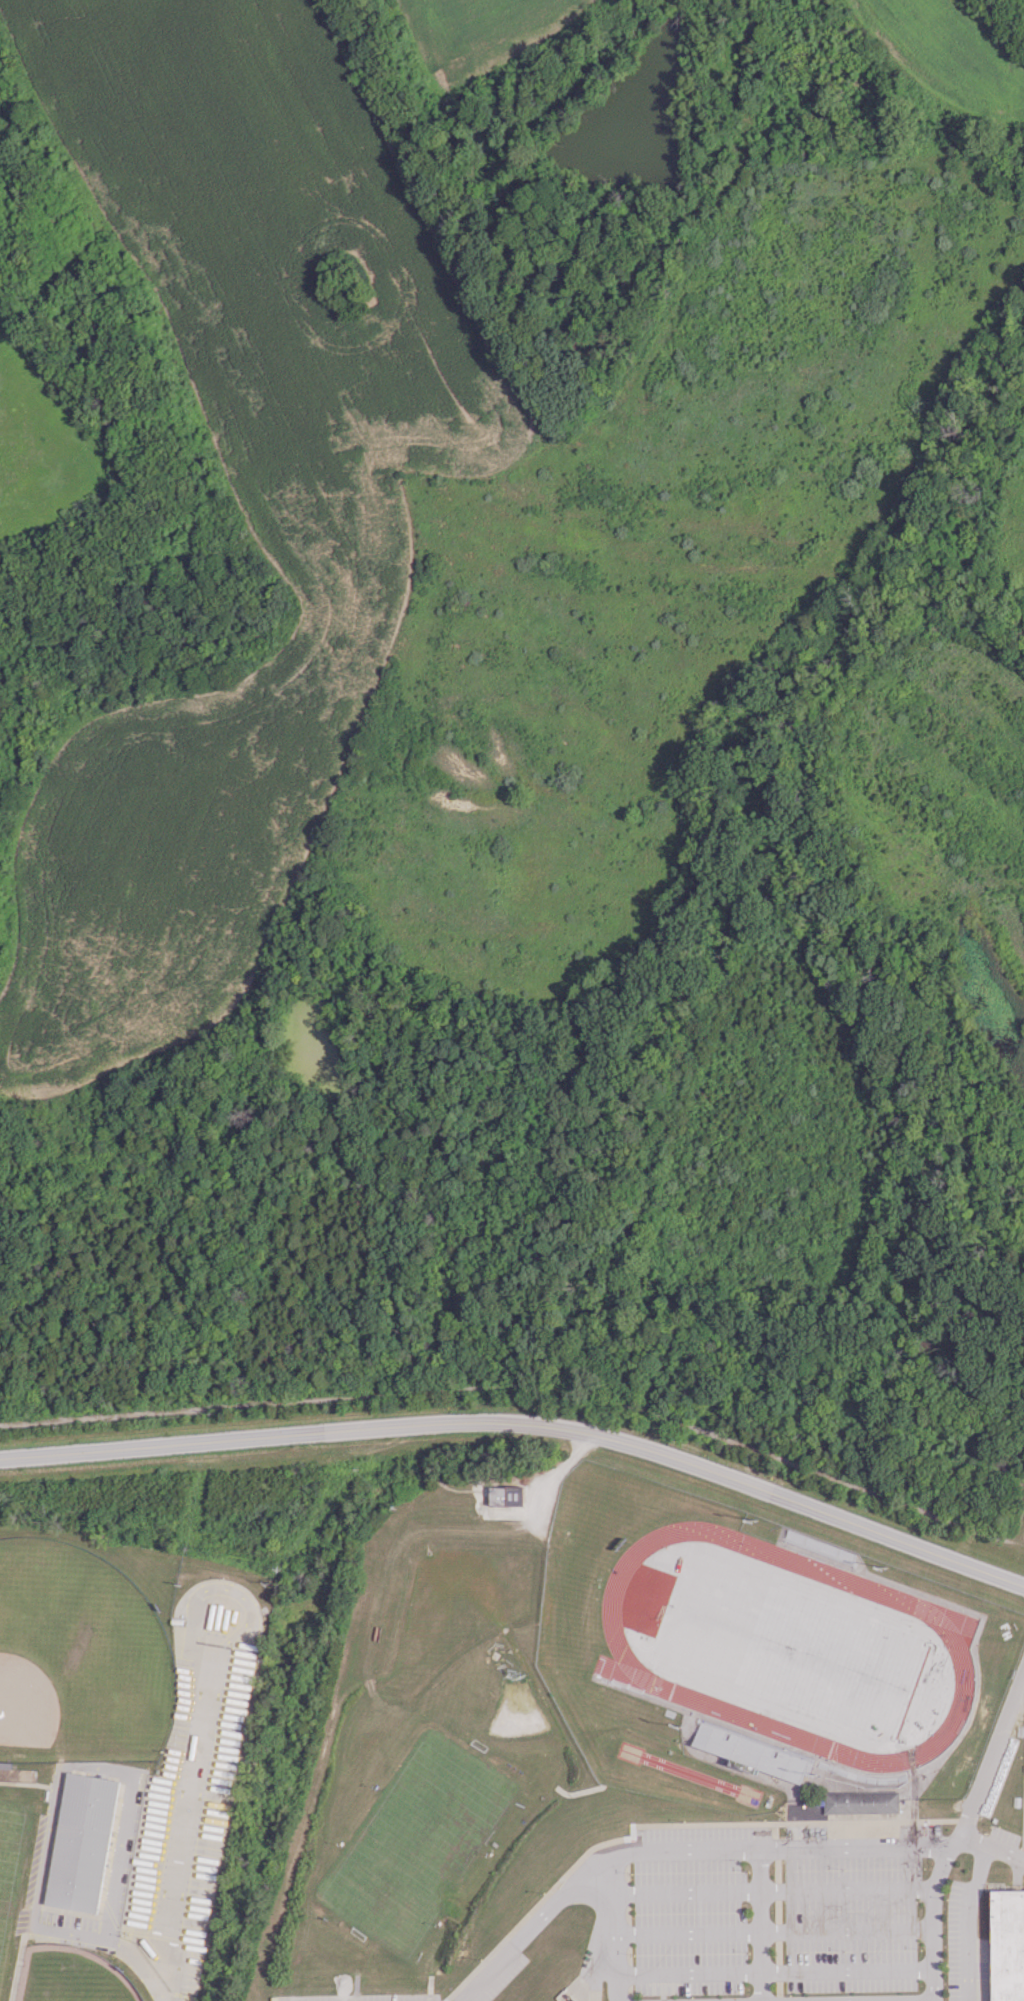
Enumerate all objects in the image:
road: (524, 1387)
road: (524, 1423)
building: (500, 1495)
parking lot: (1022, 1534)
track: (956, 1644)
park: (786, 1647)
park: (79, 1659)
road: (992, 1745)
road: (219, 1794)
building: (862, 1802)
road: (956, 1835)
building: (82, 1842)
road: (989, 1844)
road: (709, 1851)
park: (10, 1868)
road: (776, 1892)
road: (935, 1922)
road: (535, 1923)
road: (762, 1925)
road: (775, 1934)
road: (121, 1940)
building: (1007, 1945)
road: (776, 1971)
park: (72, 1976)

